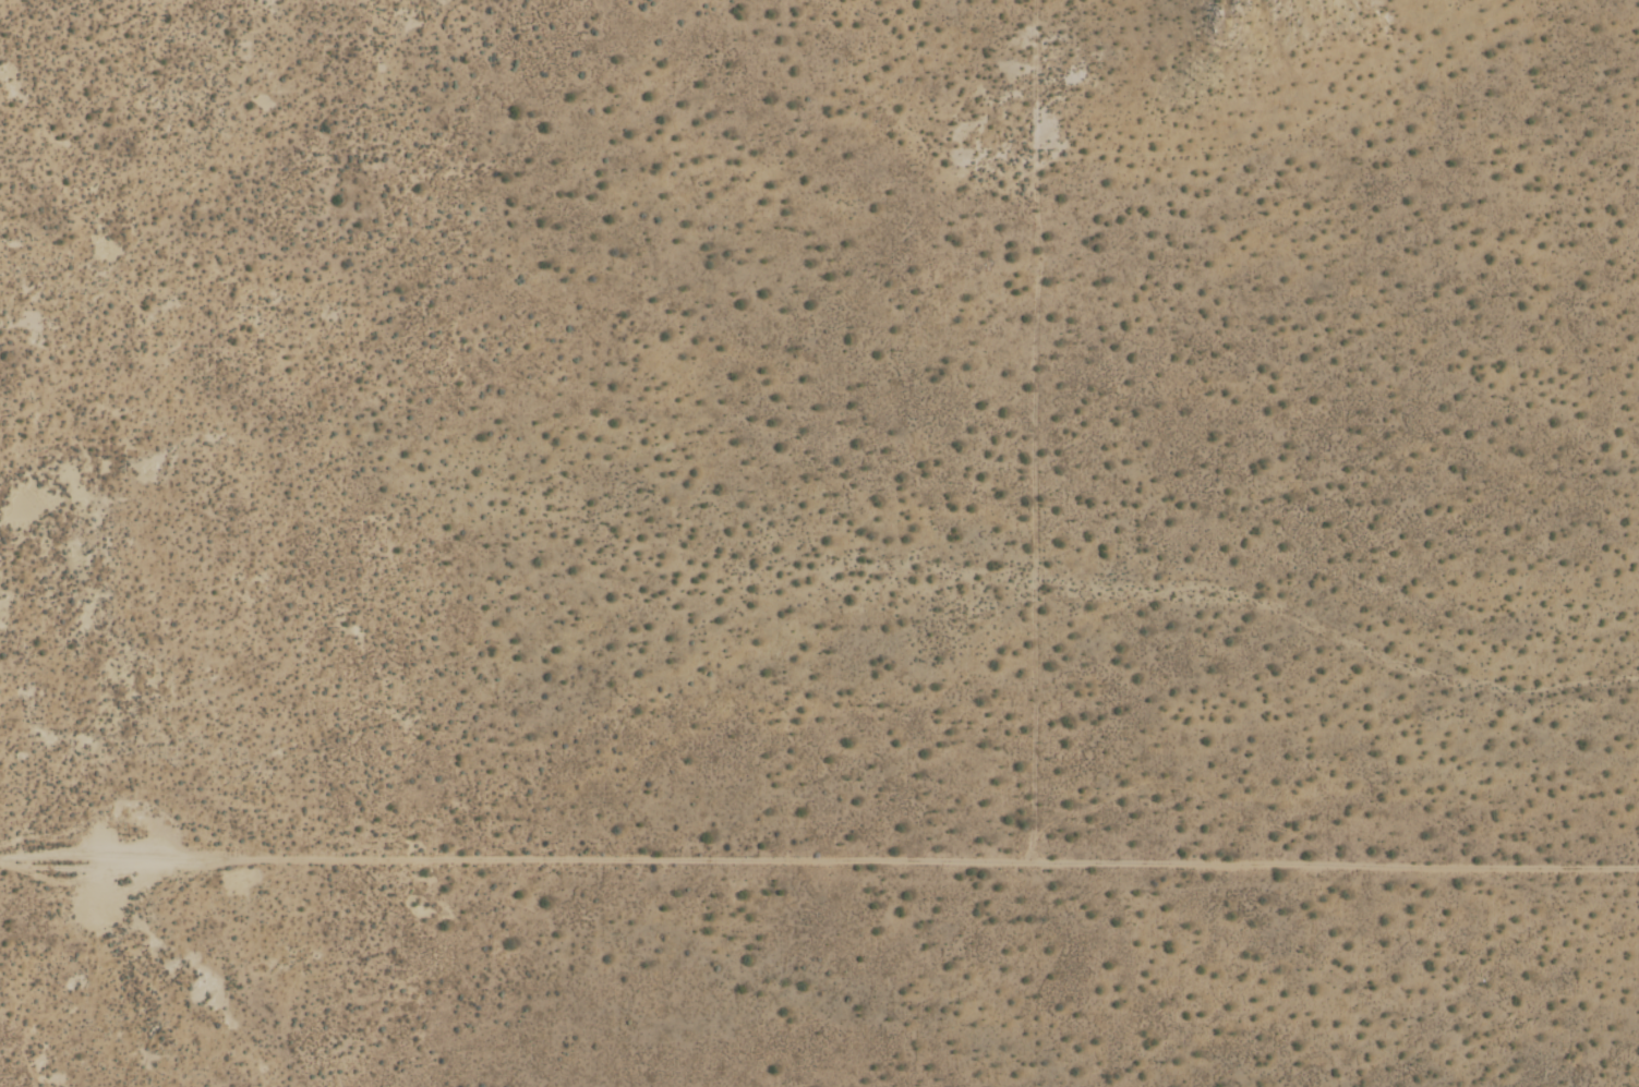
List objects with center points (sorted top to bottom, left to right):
road: (819, 857)

